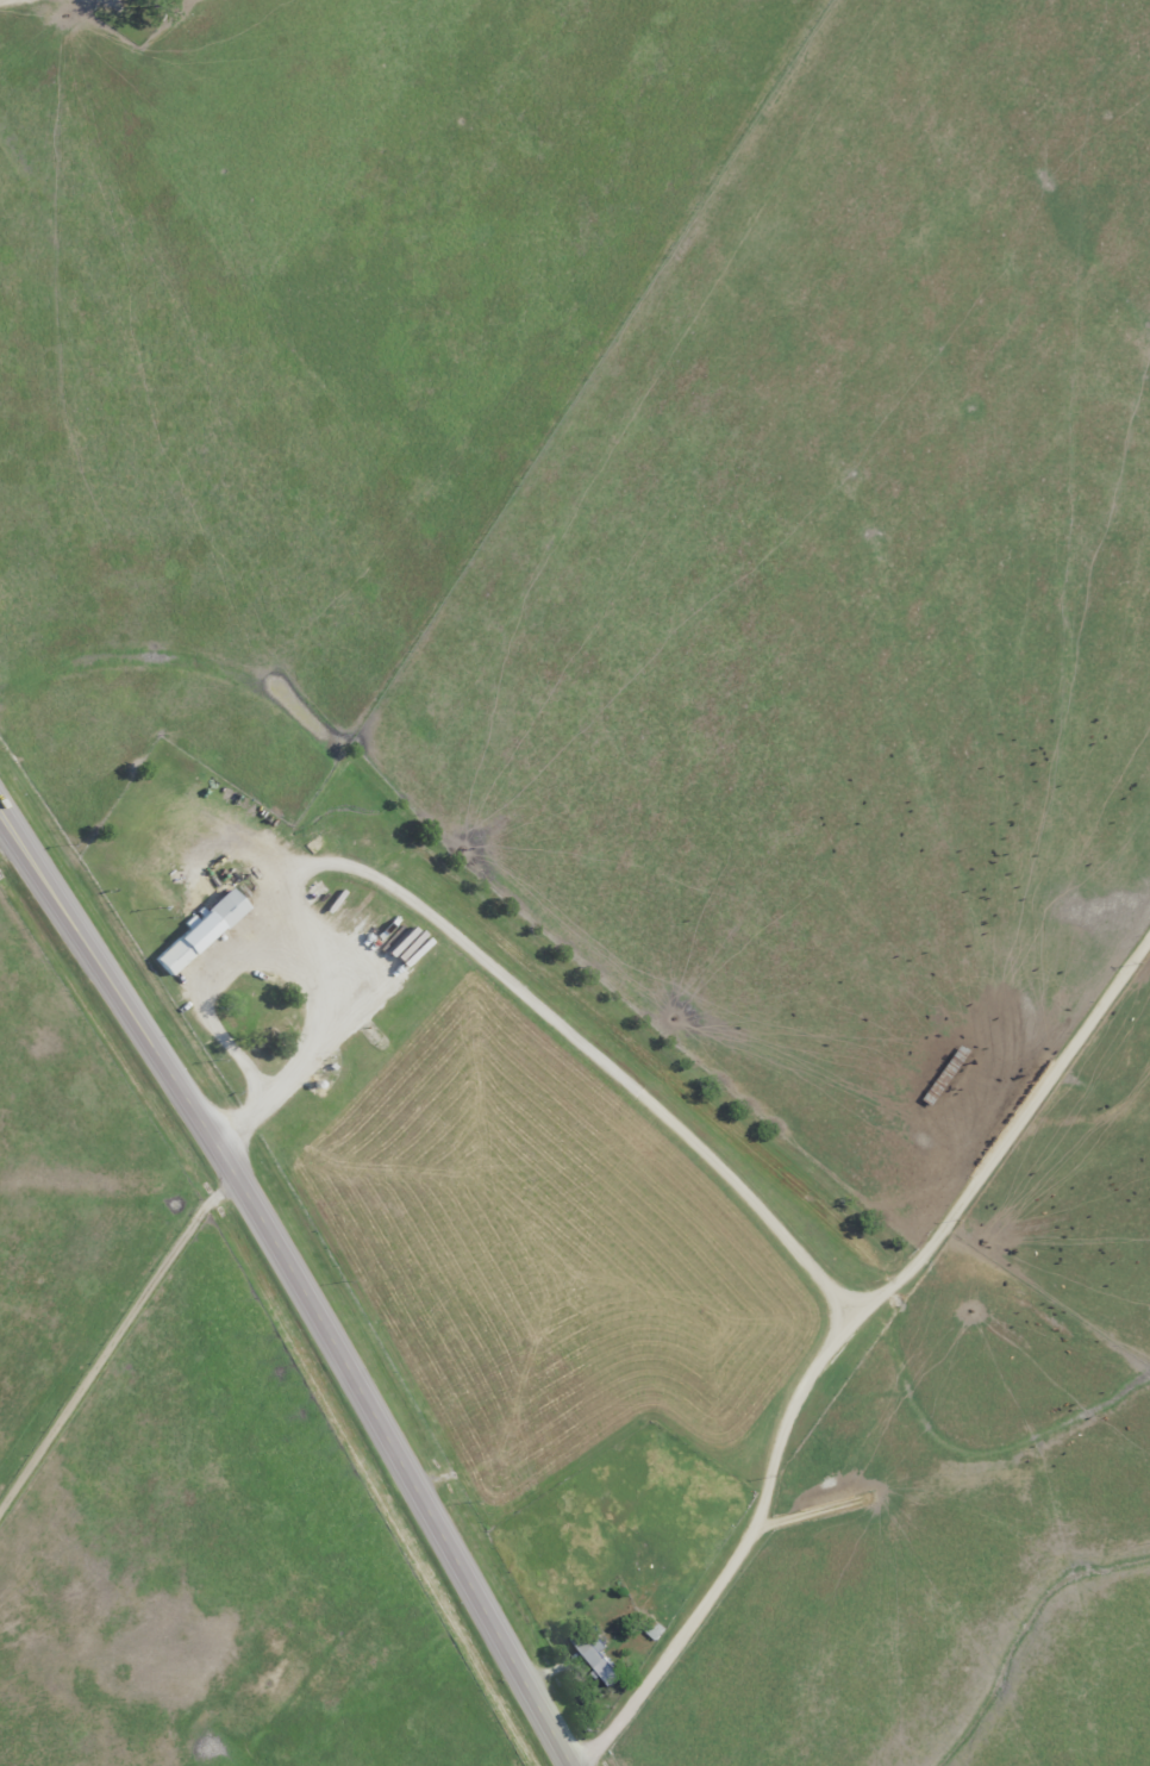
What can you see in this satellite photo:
building: (199, 931)
road: (302, 1278)
road: (831, 1340)
building: (598, 1659)

